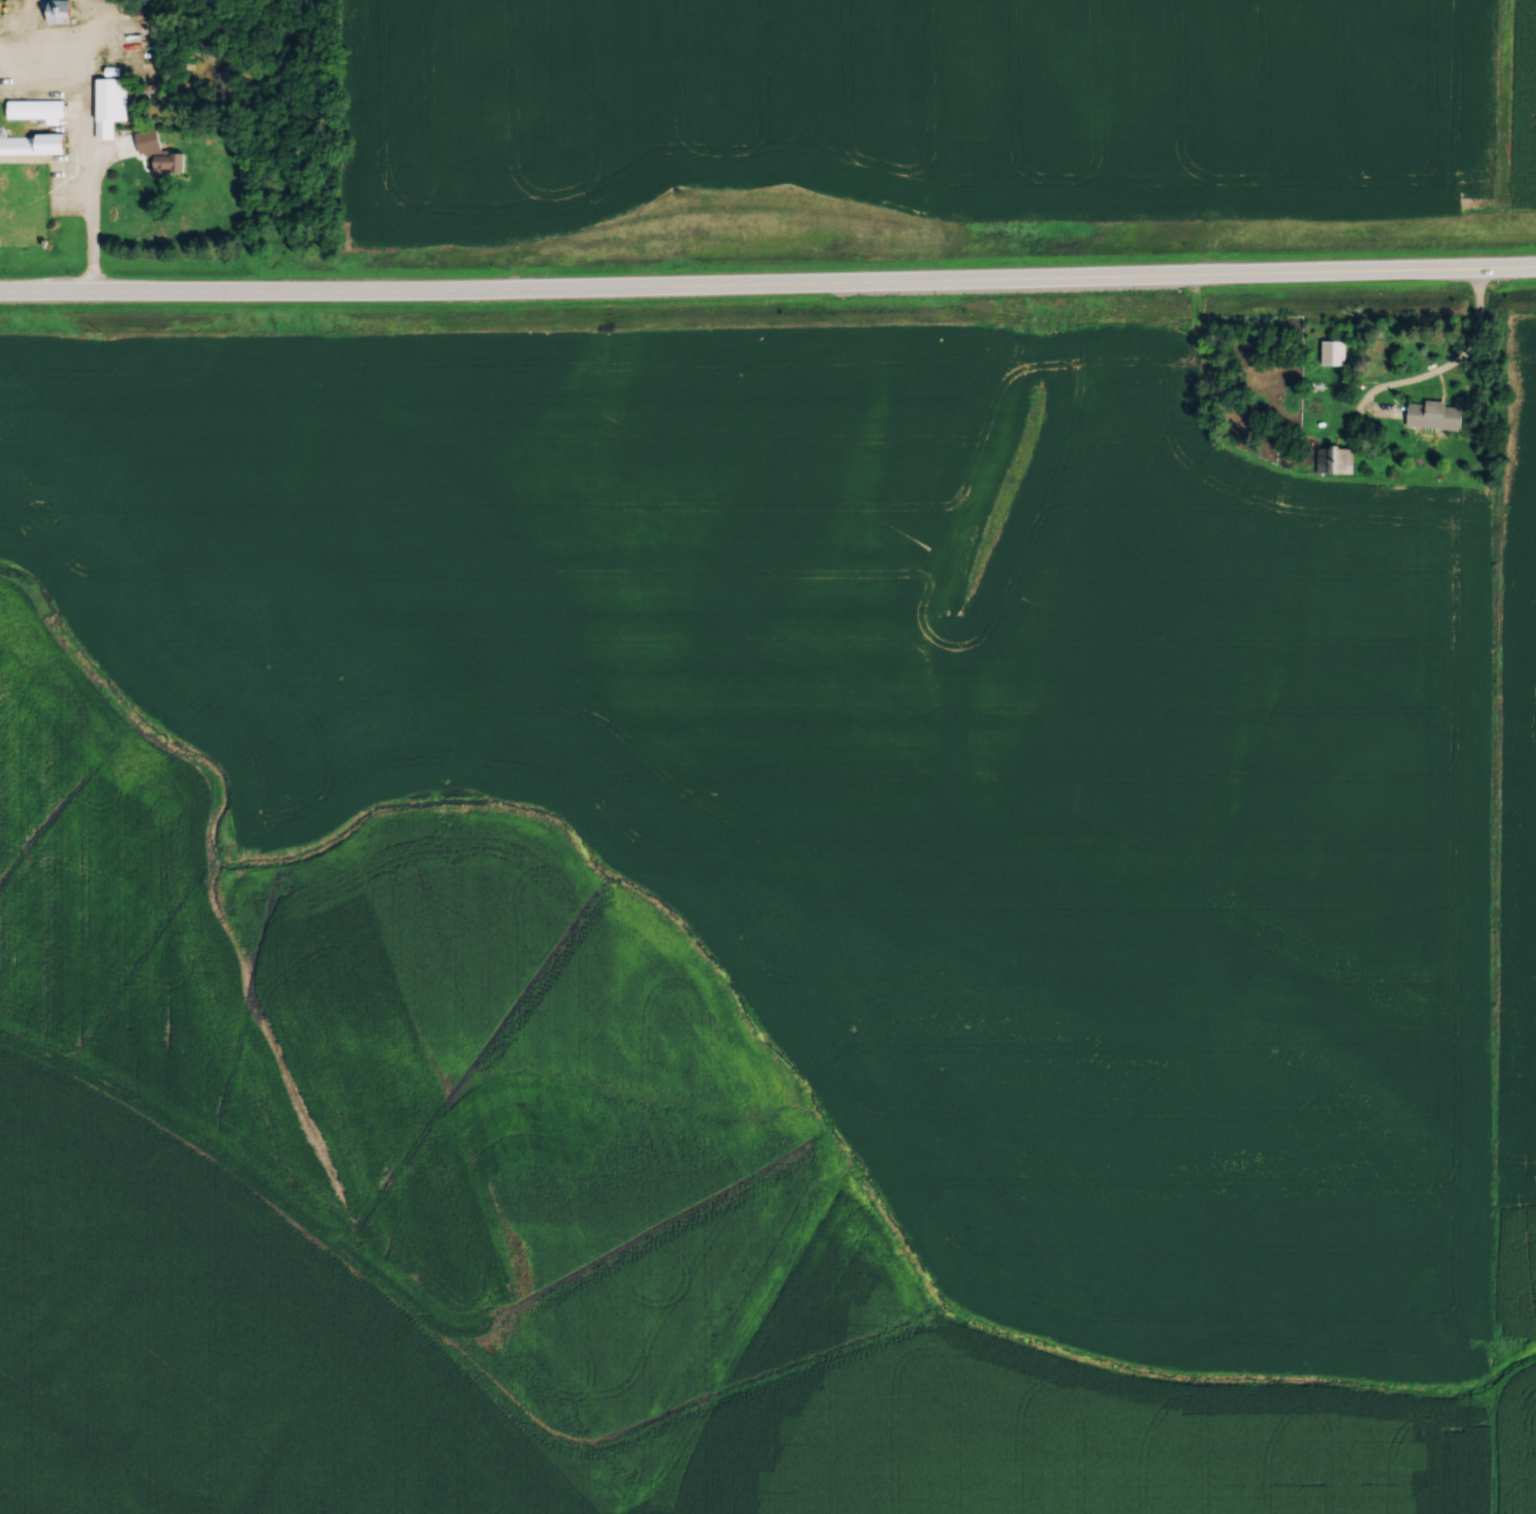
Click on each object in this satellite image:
building: (61, 10)
building: (107, 102)
building: (47, 106)
building: (33, 143)
building: (168, 158)
road: (89, 225)
road: (768, 286)
road: (1445, 363)
building: (1436, 410)
building: (1335, 454)

